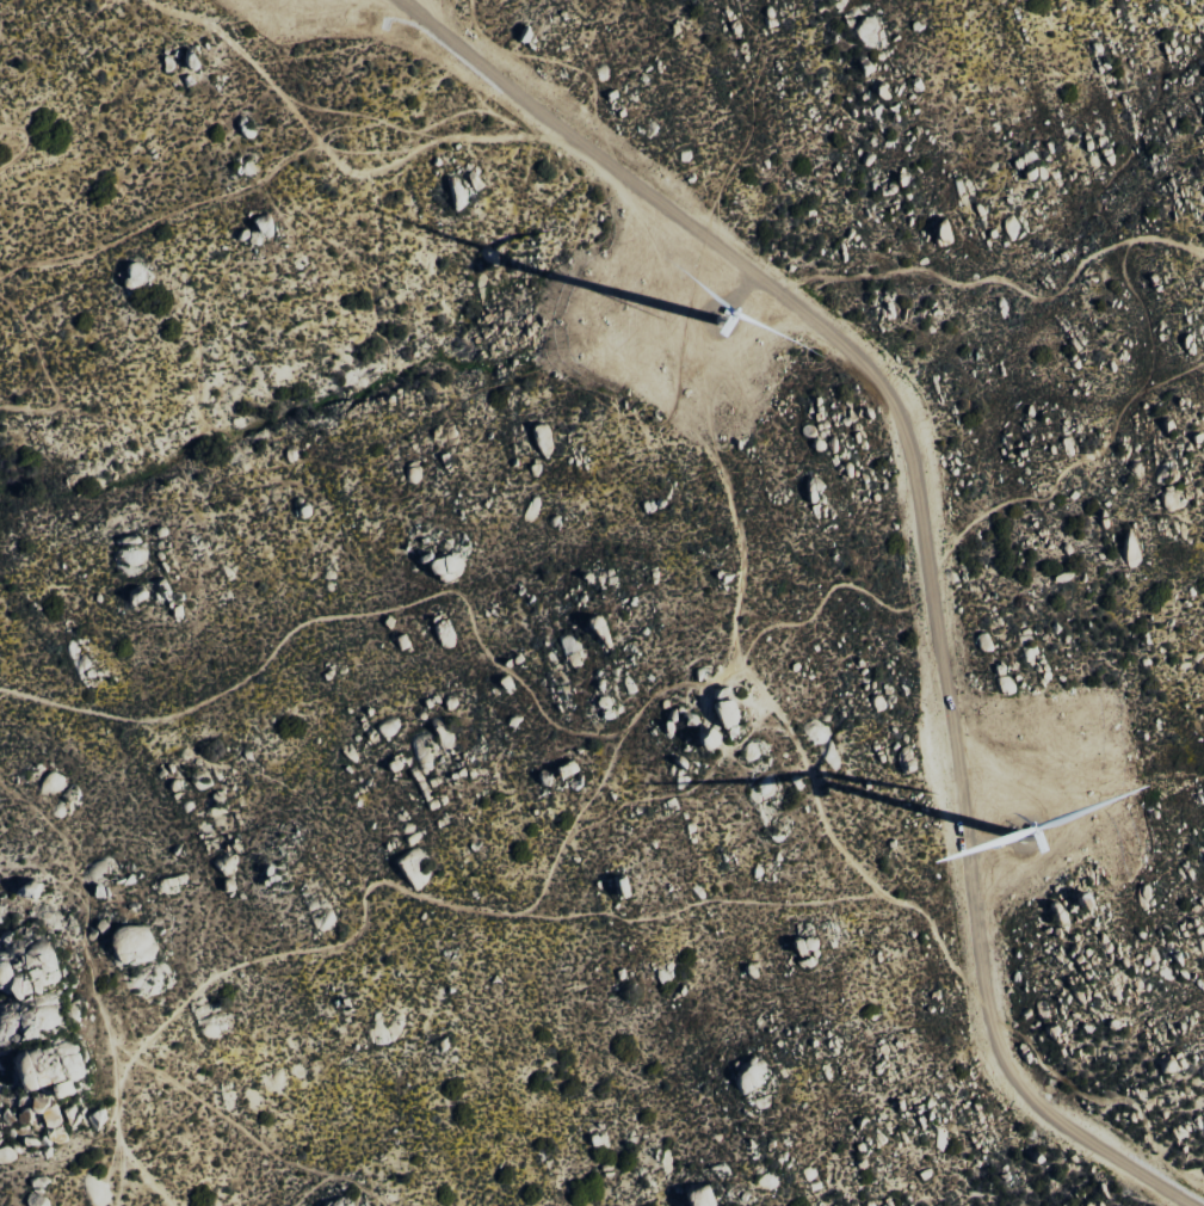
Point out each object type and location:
building: (876, 38)
road: (1, 42)
building: (189, 59)
building: (1035, 173)
building: (263, 224)
building: (941, 230)
wind turbine: (716, 318)
road: (42, 364)
road: (924, 536)
building: (445, 567)
building: (135, 596)
building: (598, 630)
building: (444, 633)
building: (401, 640)
building: (983, 641)
building: (722, 712)
building: (705, 739)
building: (563, 768)
wind turbine: (1030, 838)
building: (168, 885)
building: (620, 886)
building: (25, 888)
building: (326, 921)
building: (131, 945)
building: (803, 945)
building: (43, 1067)
building: (98, 1118)
building: (50, 1119)
road: (336, 1173)
building: (698, 1196)

